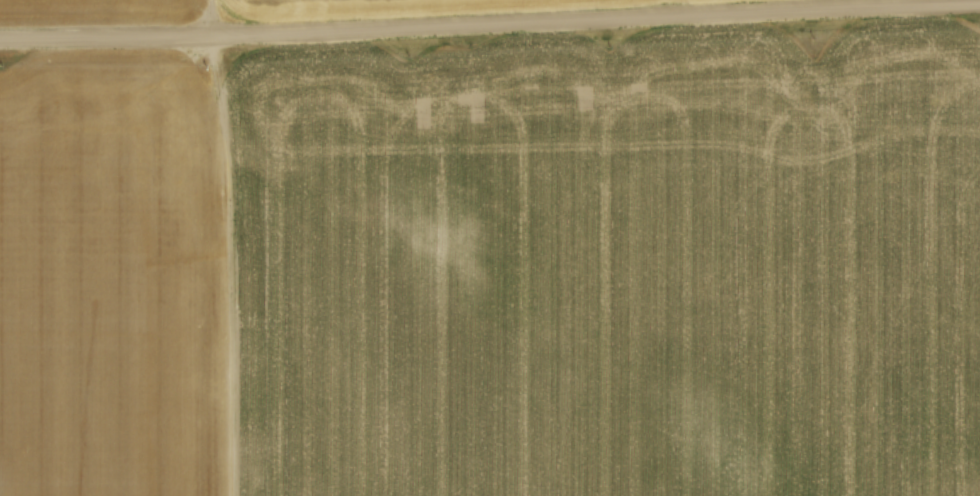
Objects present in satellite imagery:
crop: (235, 7)
road: (490, 24)
crop: (497, 268)

